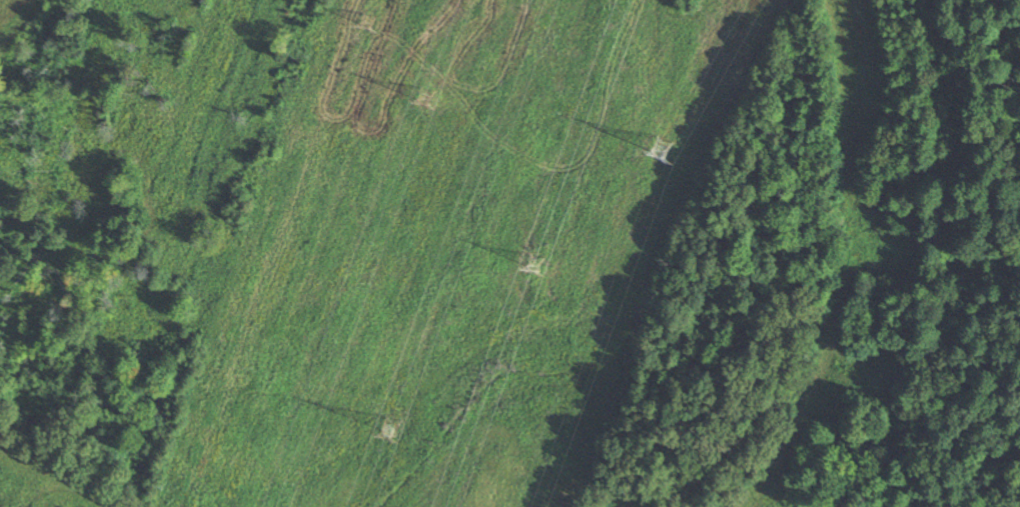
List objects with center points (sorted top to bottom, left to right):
power tower: (365, 22)
power tower: (427, 94)
power tower: (662, 146)
power tower: (535, 264)
power tower: (387, 426)

